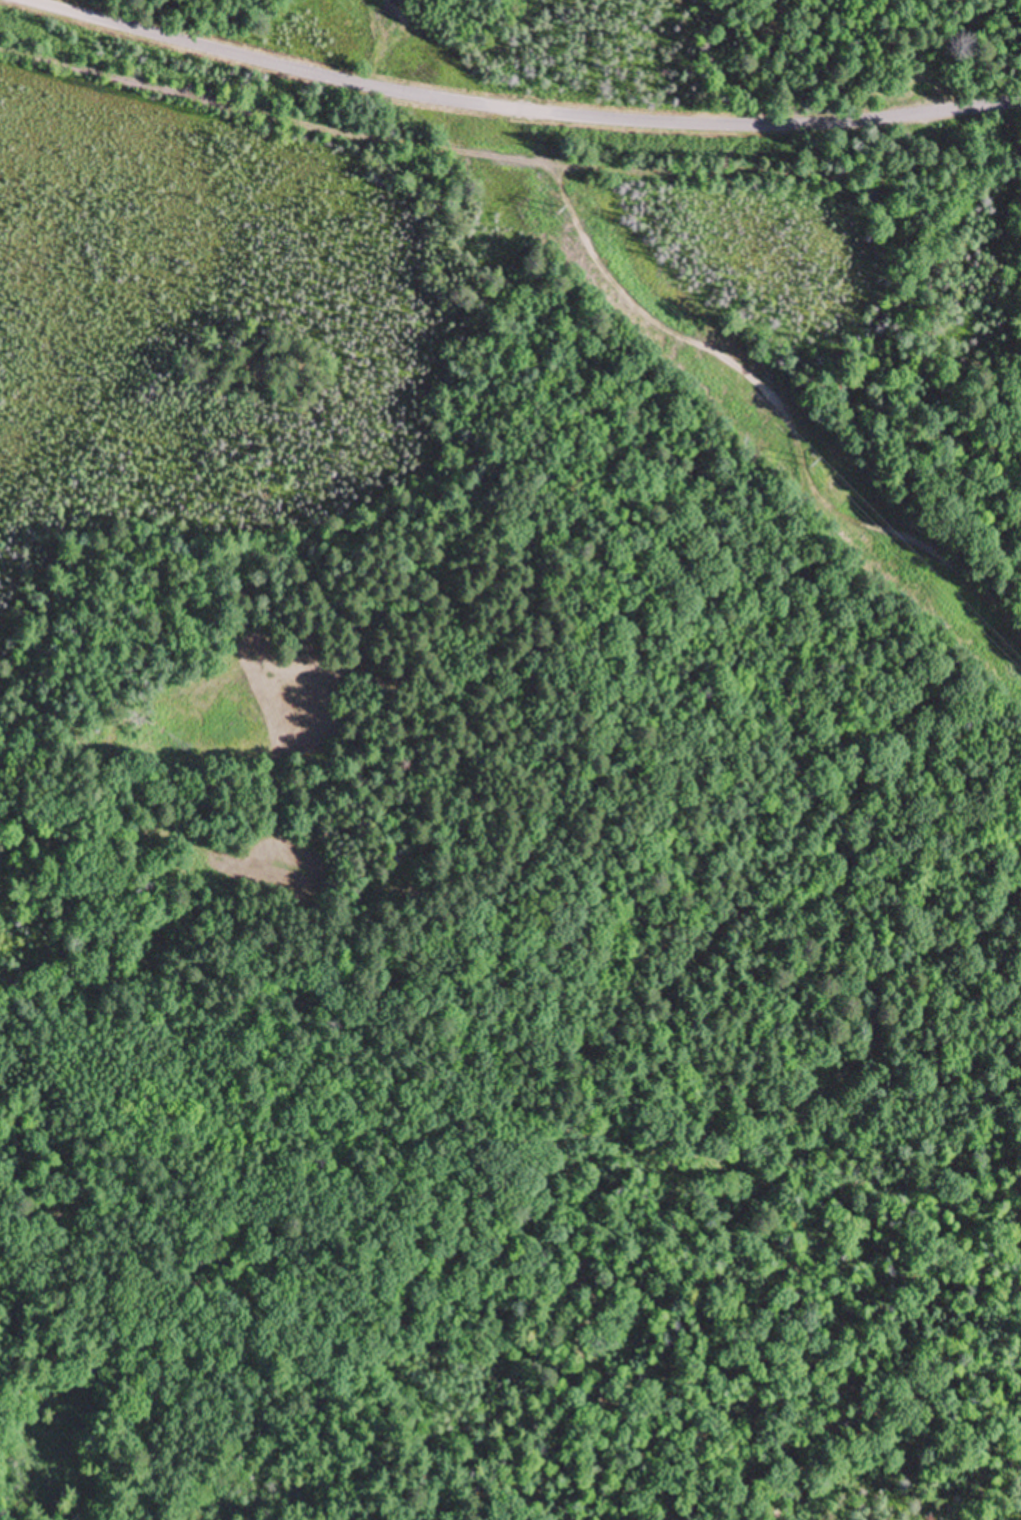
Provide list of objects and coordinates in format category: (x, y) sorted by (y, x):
road: (517, 110)
road: (504, 160)
power tower: (559, 213)
power tower: (814, 467)

